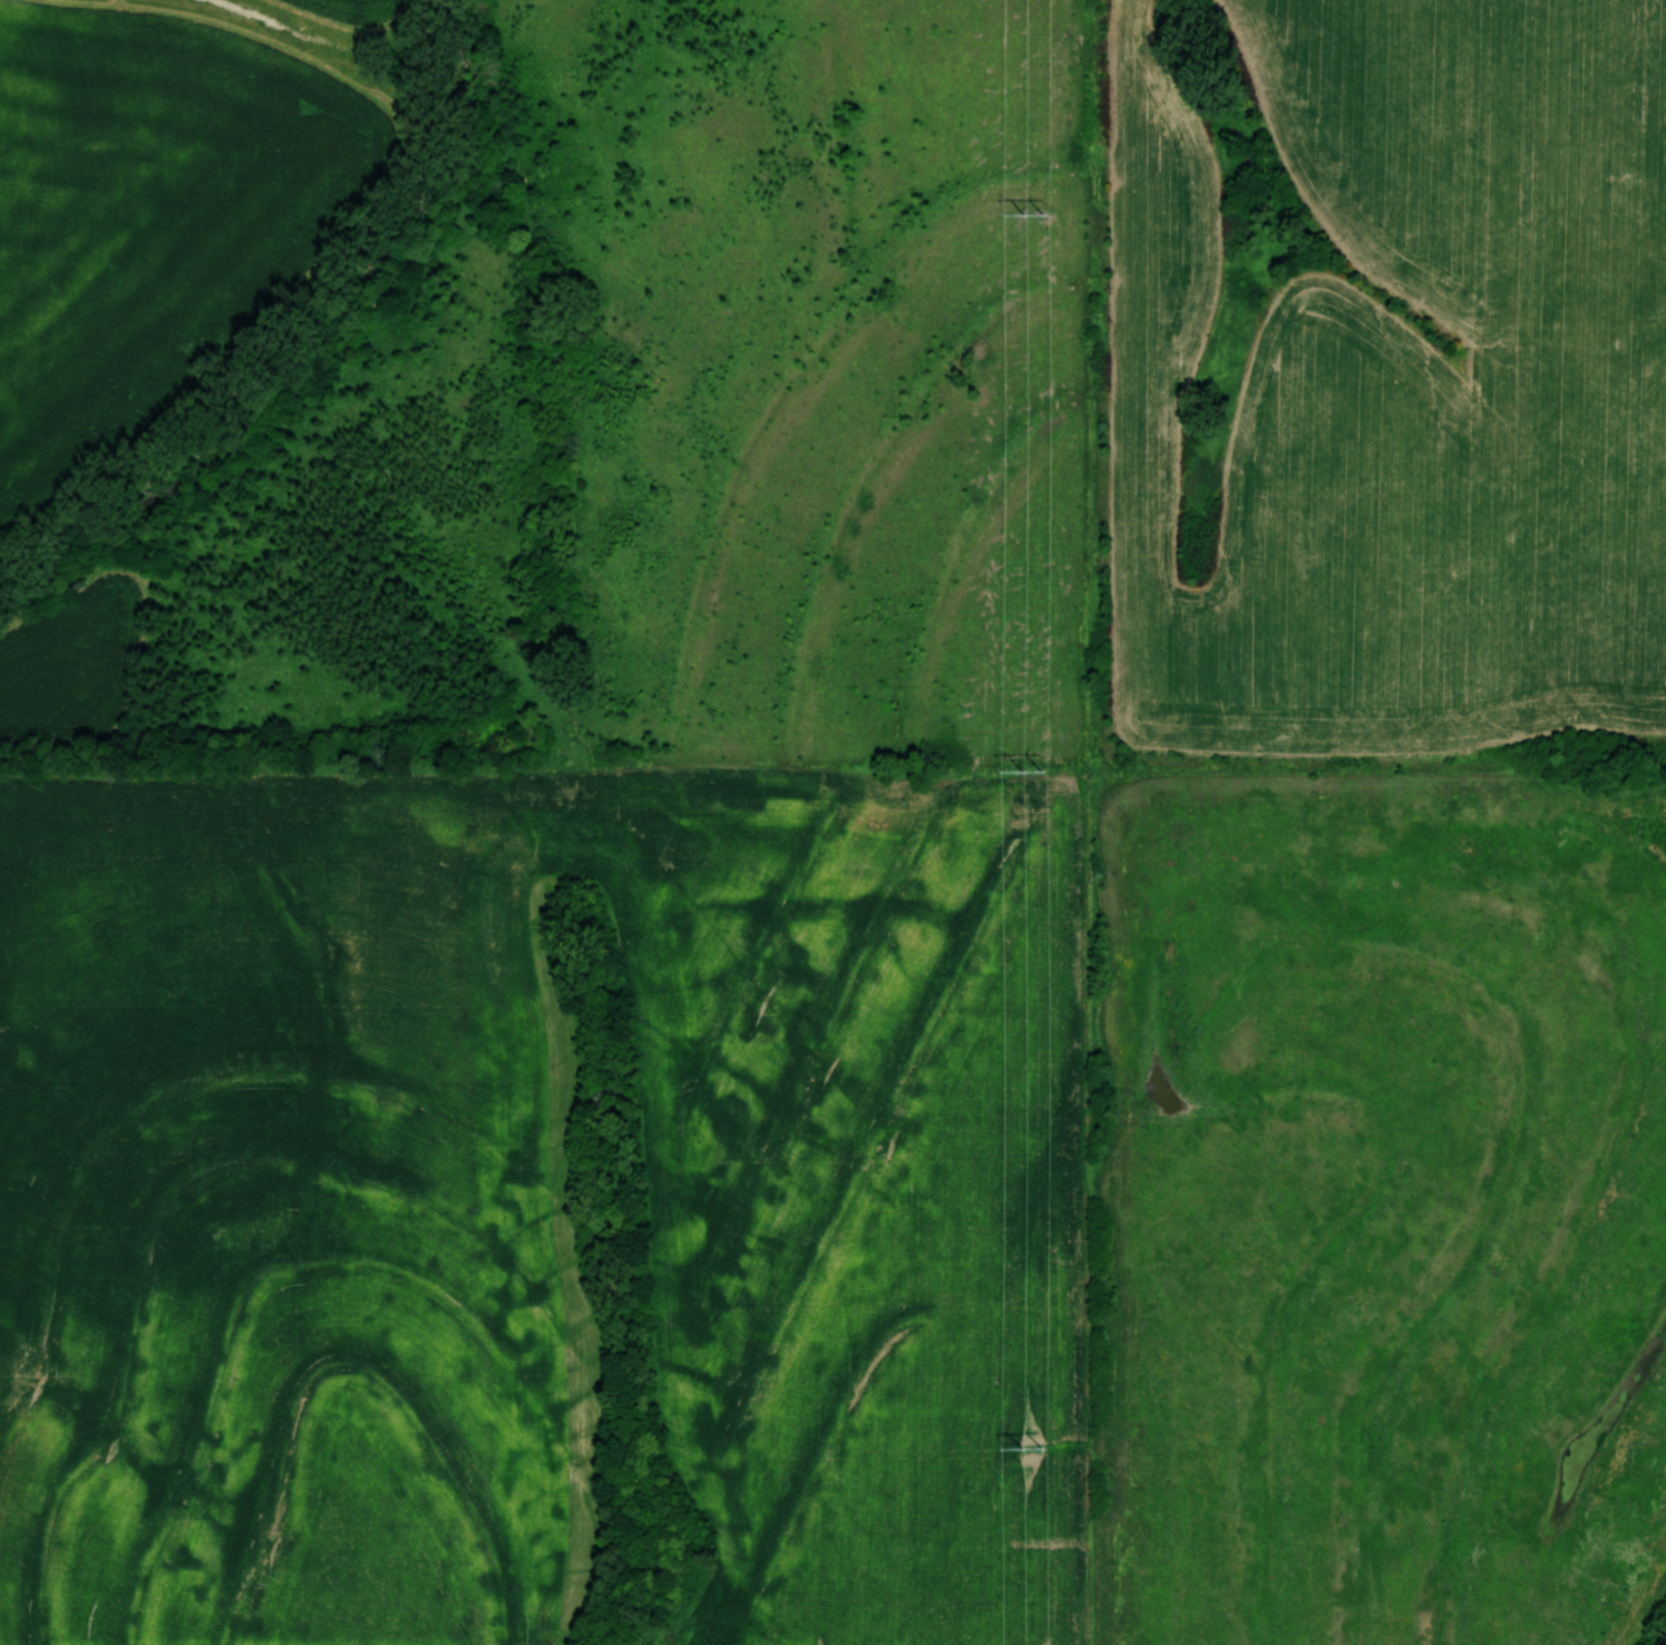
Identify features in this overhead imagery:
power tower: (1036, 217)
power tower: (1030, 794)
power tower: (1027, 1472)

